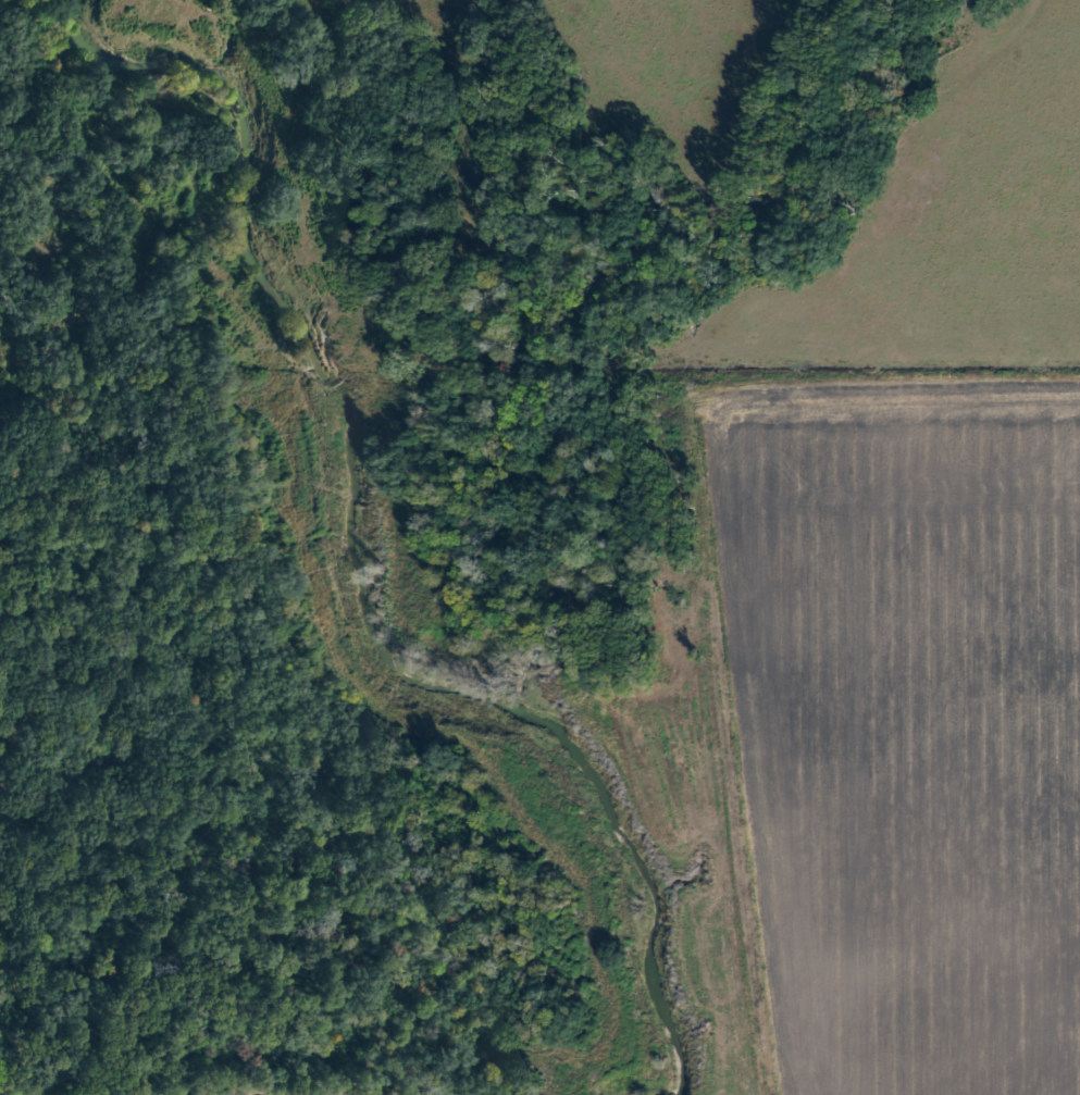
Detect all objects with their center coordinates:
park: (938, 39)

